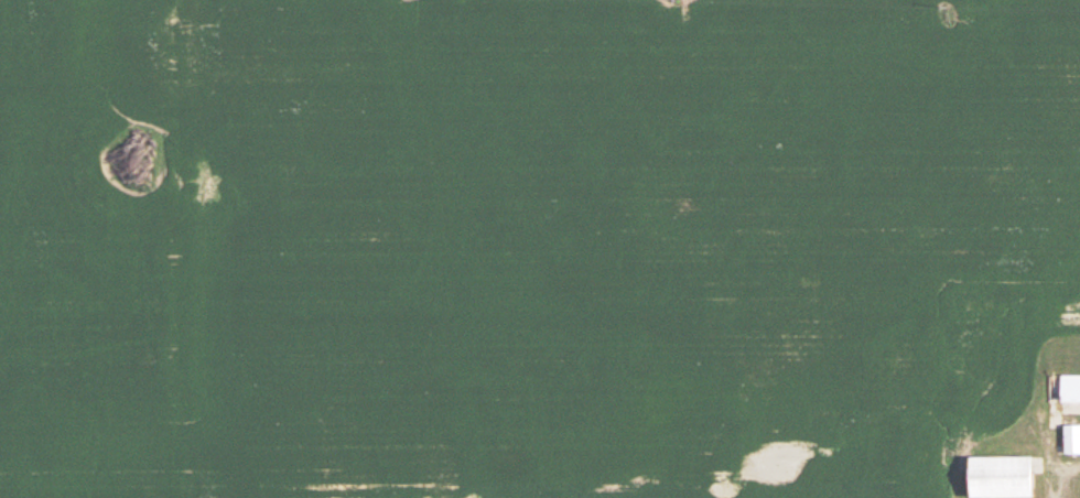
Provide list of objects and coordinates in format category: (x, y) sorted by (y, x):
building: (1069, 391)
building: (1071, 442)
building: (1000, 478)

